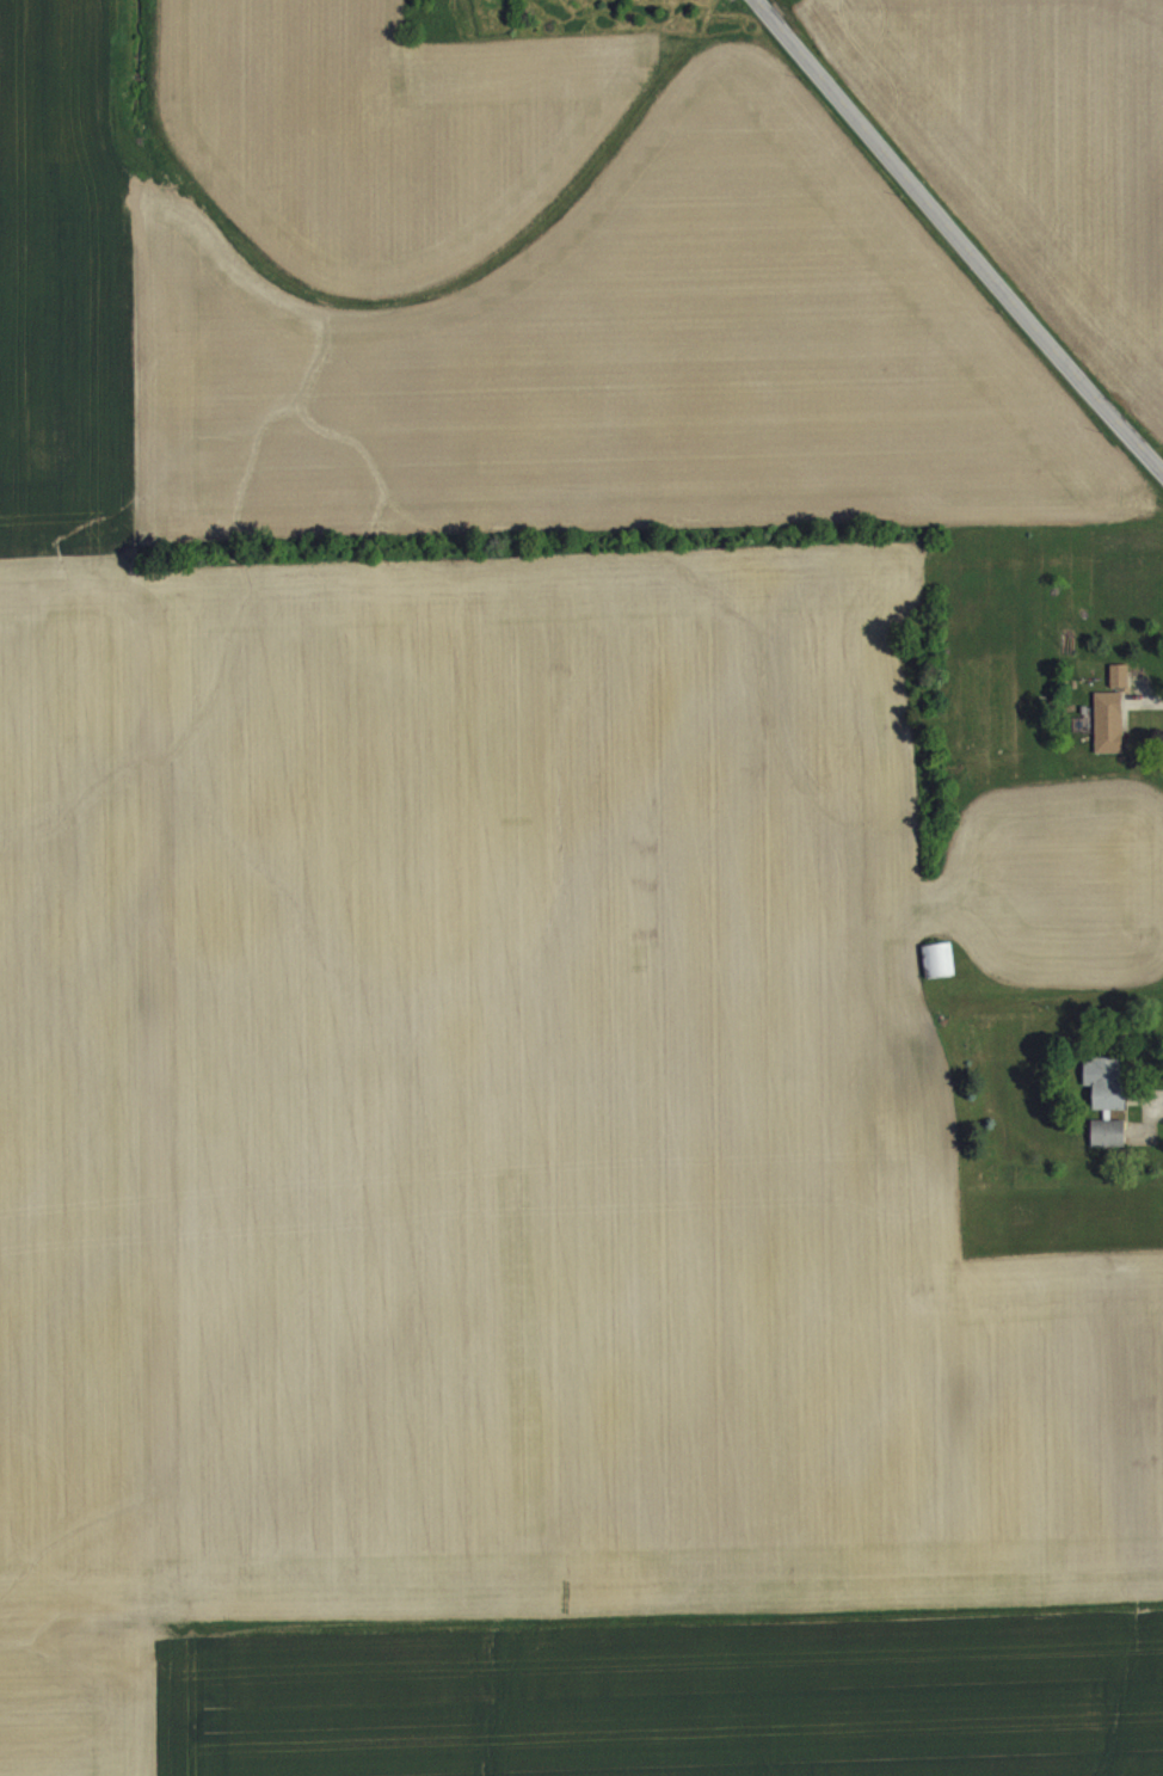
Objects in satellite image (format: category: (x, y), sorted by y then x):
building: (580, 2)
building: (510, 4)
road: (965, 233)
building: (1119, 689)
building: (1108, 736)
building: (937, 975)
building: (1104, 1098)
building: (1108, 1147)

